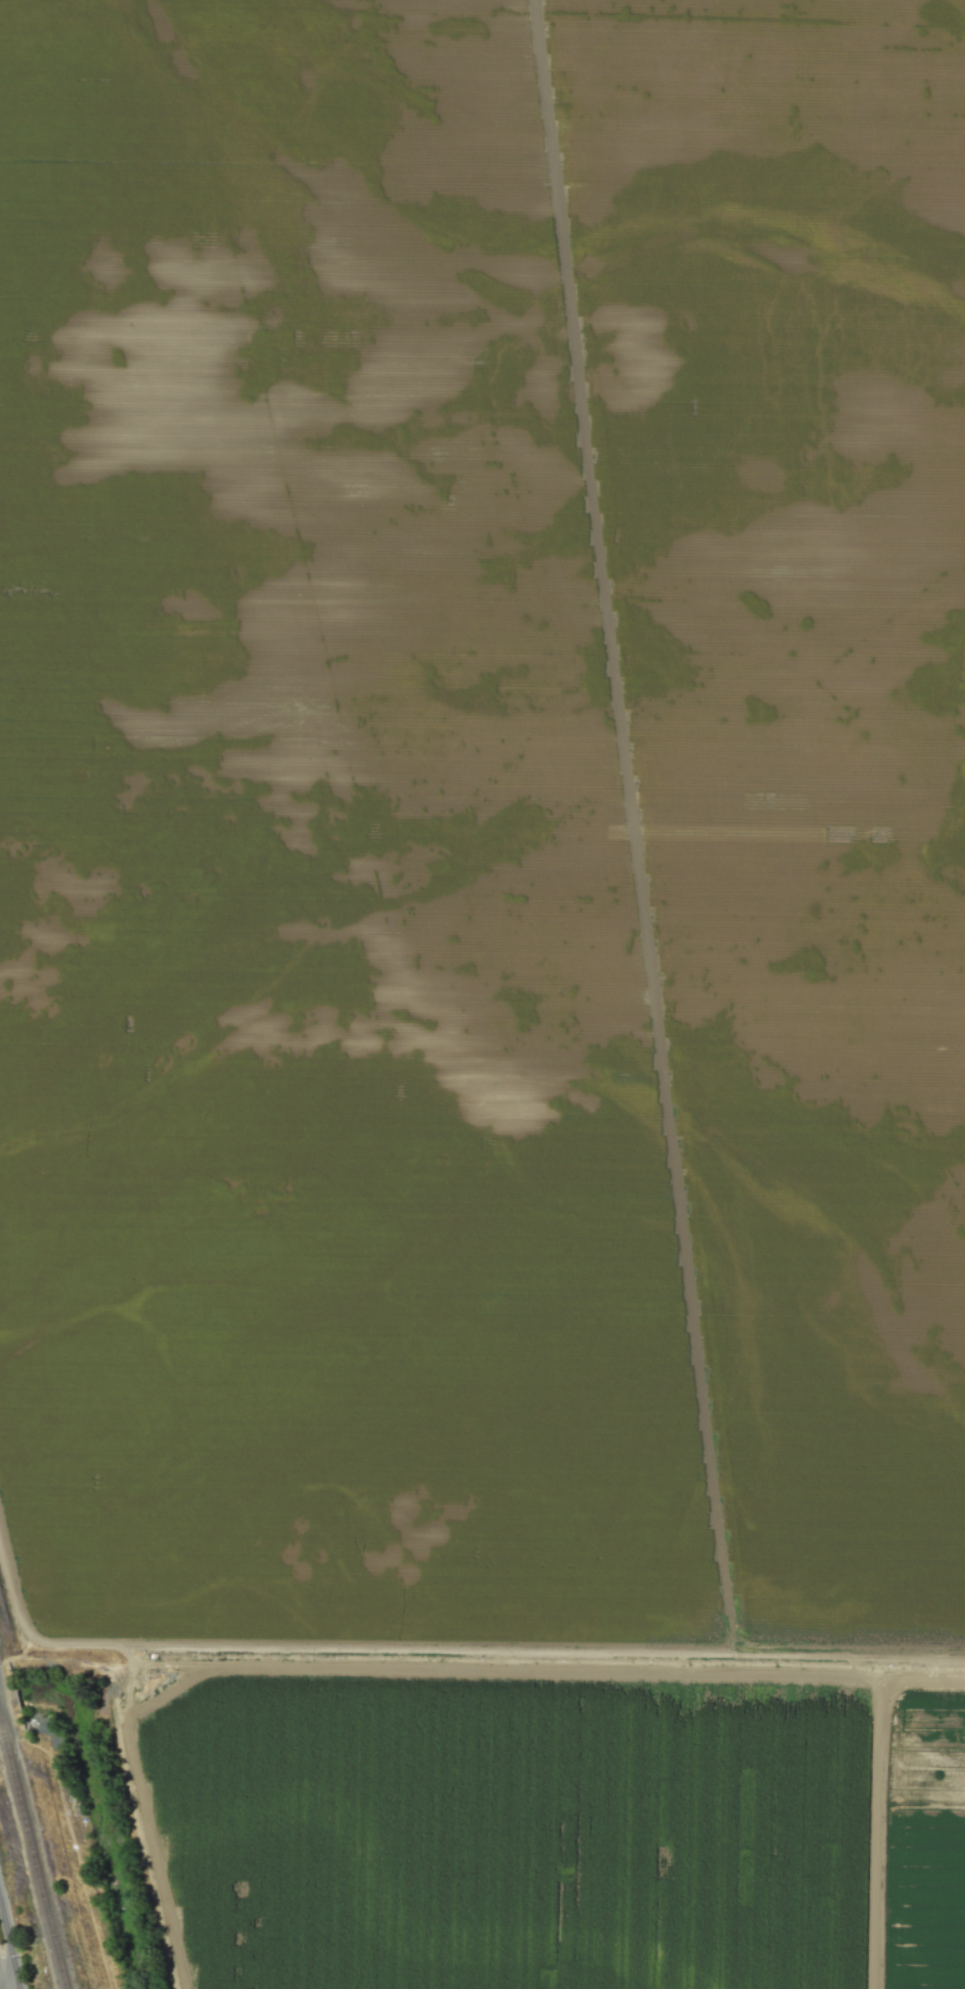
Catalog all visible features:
road: (450, 1654)
railway: (33, 1855)
road: (4, 1967)
road: (4, 1983)

